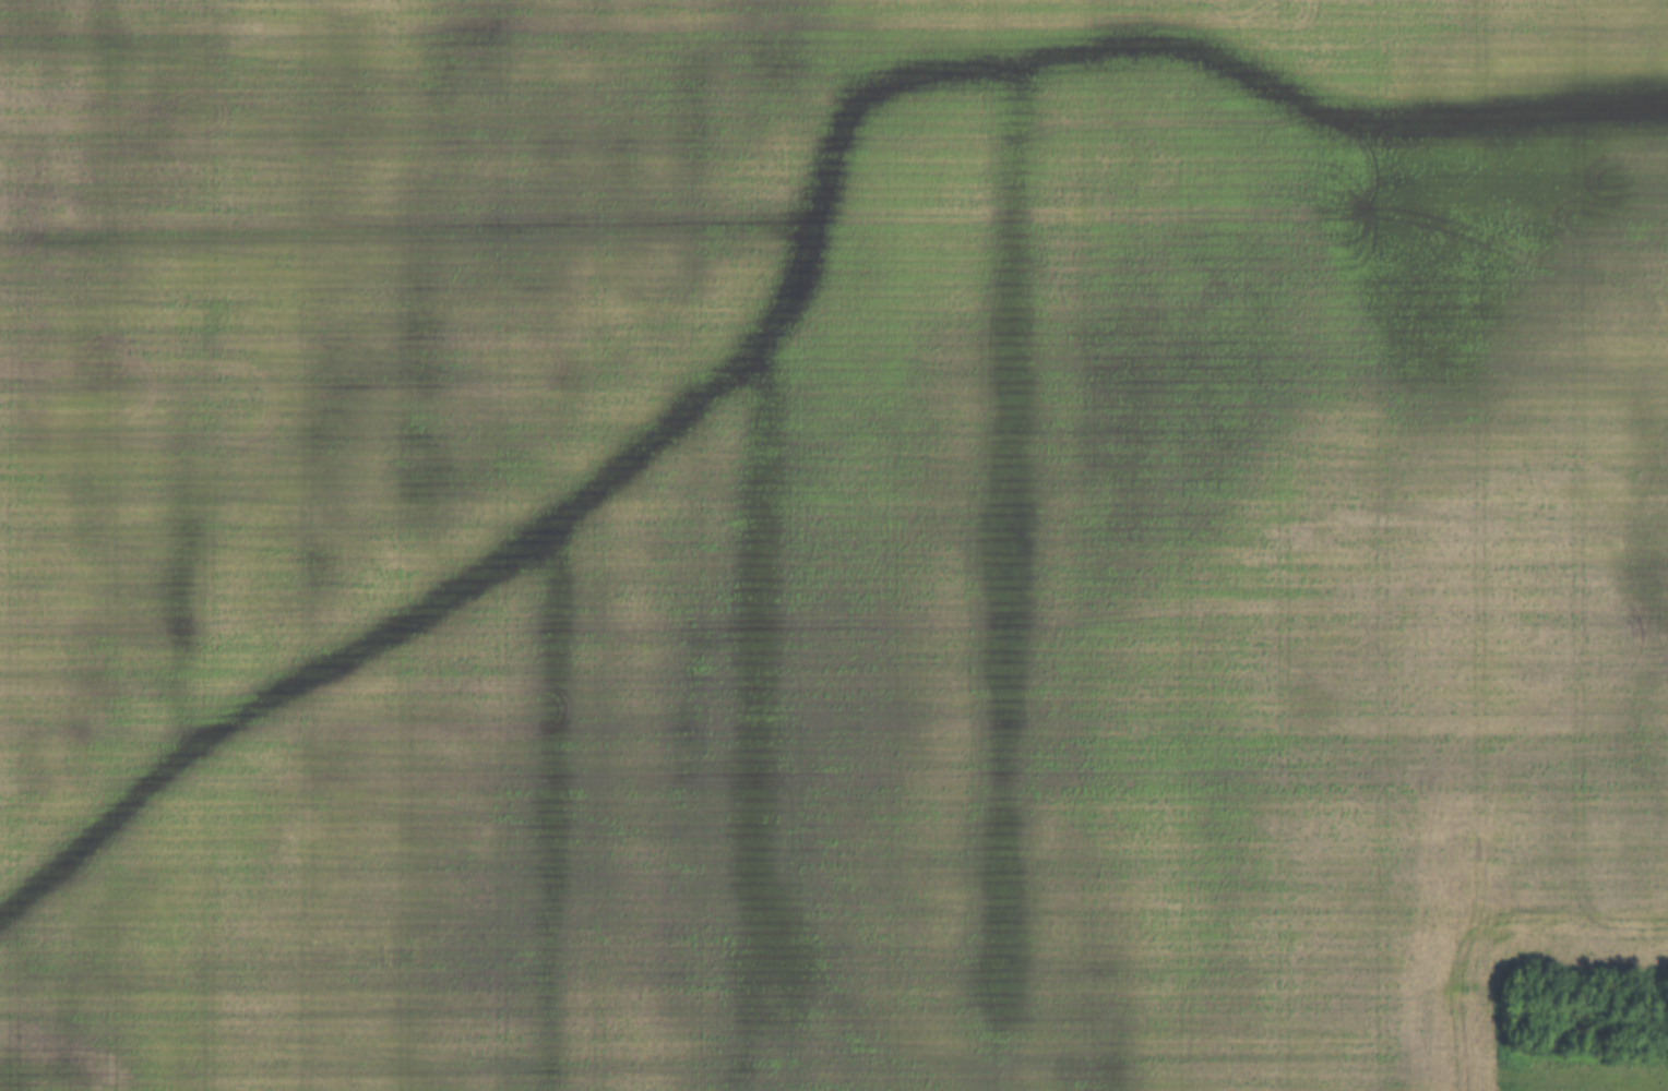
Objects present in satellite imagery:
crop: (827, 541)

